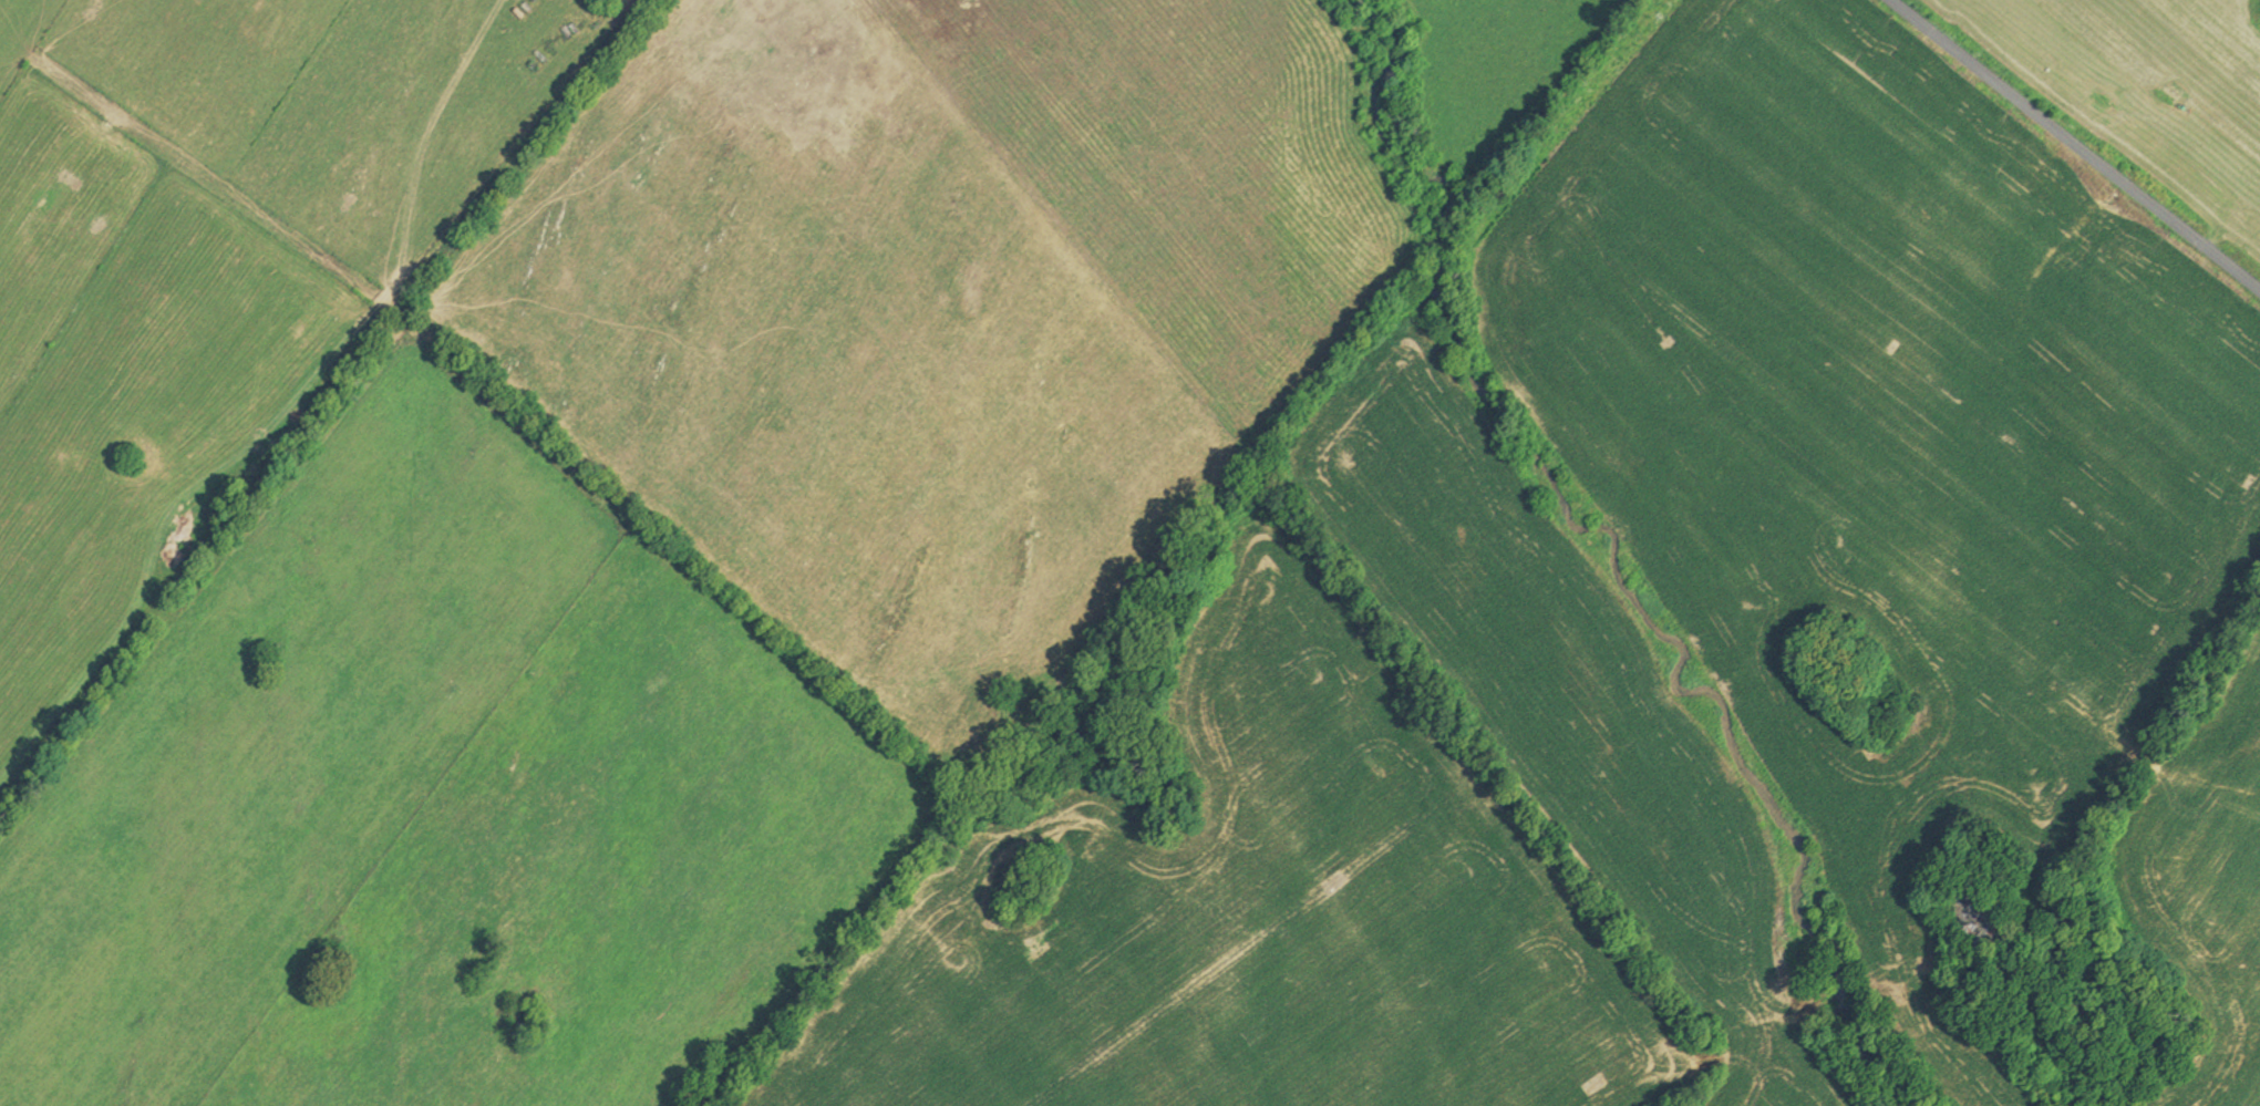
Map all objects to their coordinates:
road: (2078, 146)
building: (1955, 919)

